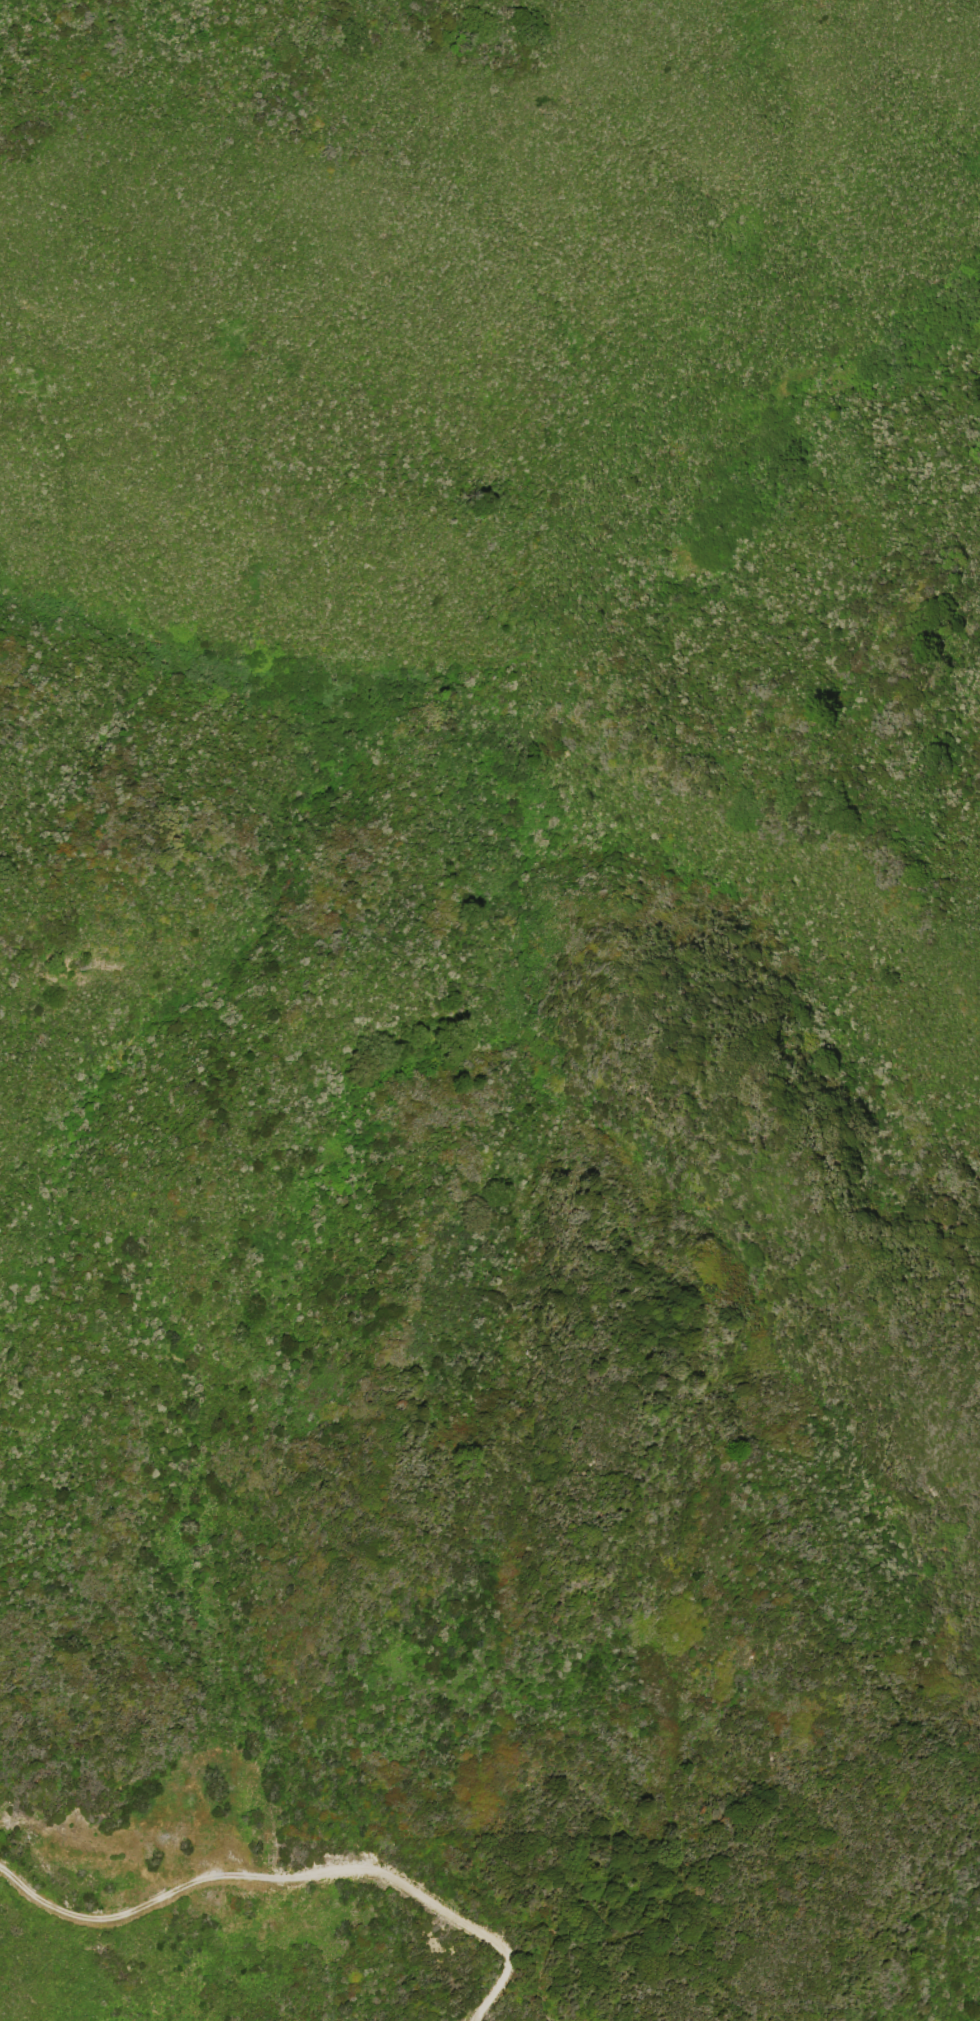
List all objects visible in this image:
road: (291, 1880)

